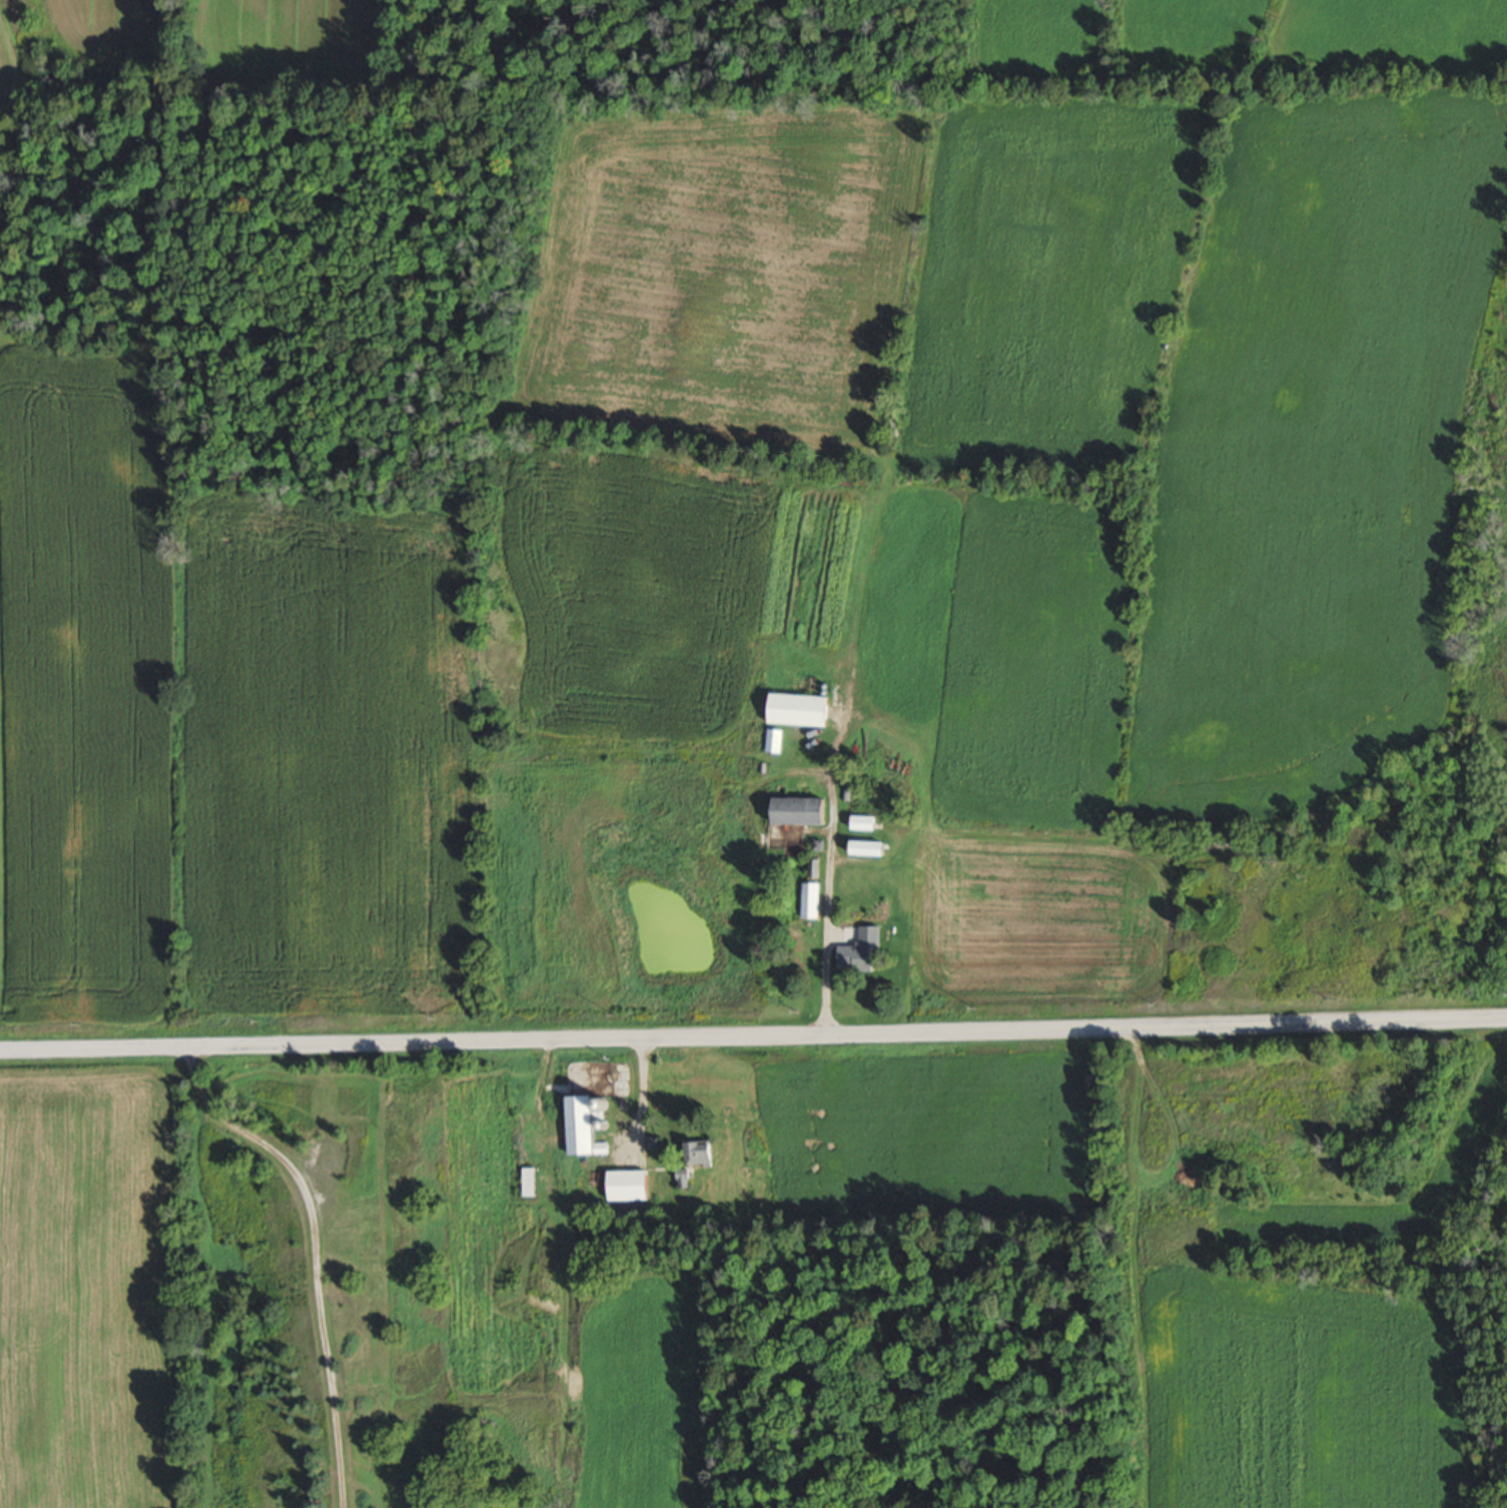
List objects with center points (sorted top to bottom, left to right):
building: (800, 708)
building: (773, 739)
building: (802, 809)
building: (862, 821)
building: (869, 847)
building: (808, 899)
building: (880, 928)
building: (849, 951)
road: (753, 1037)
building: (583, 1125)
building: (701, 1153)
building: (527, 1181)
building: (624, 1184)

